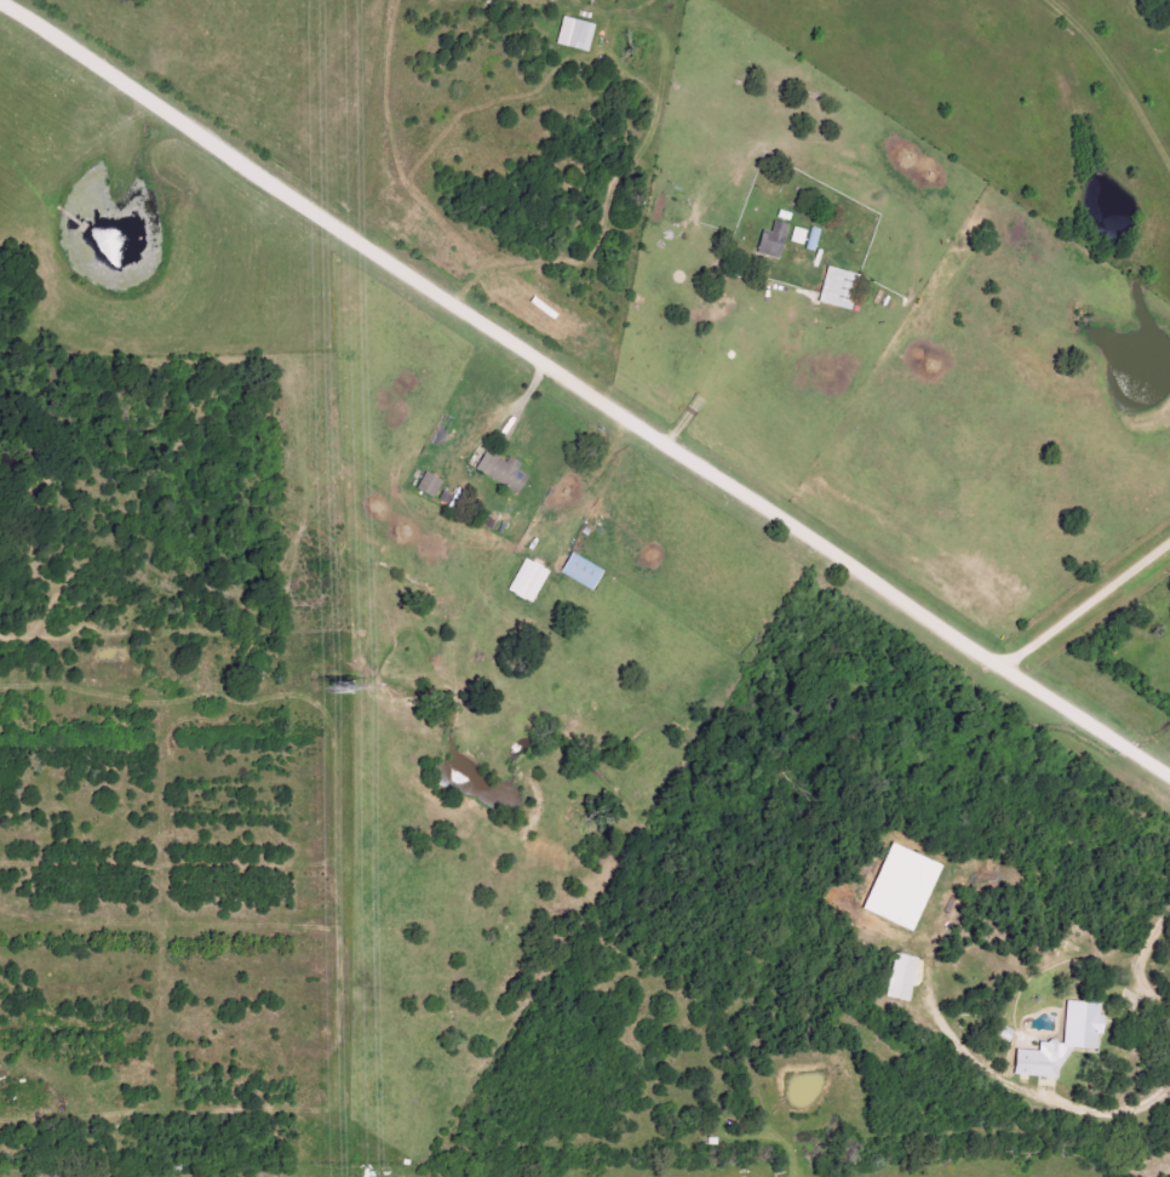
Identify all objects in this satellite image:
building: (575, 34)
building: (799, 235)
building: (773, 240)
building: (838, 288)
road: (584, 393)
building: (501, 472)
building: (429, 485)
building: (581, 571)
building: (528, 581)
power tower: (343, 689)
building: (900, 886)
building: (900, 977)
building: (1062, 1042)

